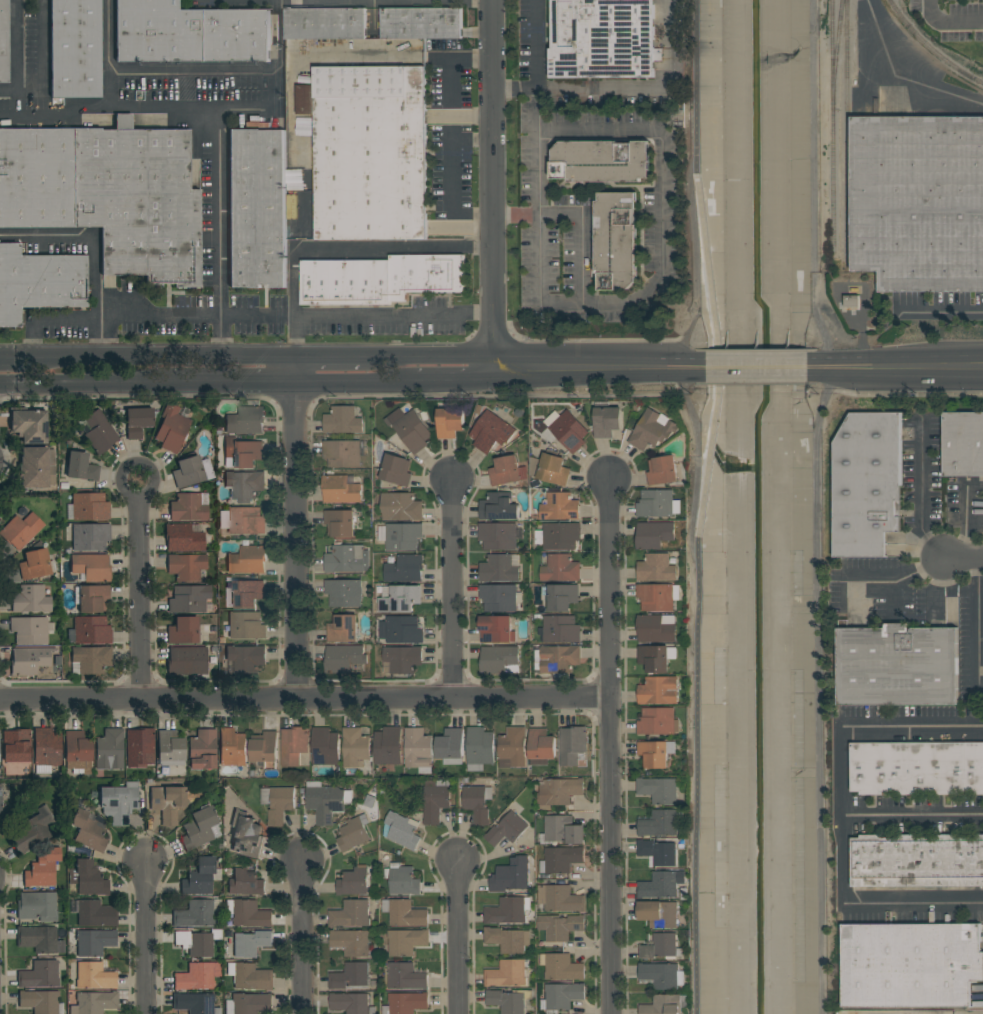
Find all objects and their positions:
road: (947, 18)
building: (325, 22)
building: (422, 22)
building: (189, 33)
building: (603, 38)
building: (4, 42)
railway: (932, 47)
building: (76, 48)
railway: (836, 52)
road: (16, 53)
road: (321, 54)
road: (461, 56)
road: (42, 57)
road: (157, 72)
road: (927, 85)
road: (643, 86)
road: (515, 88)
road: (146, 106)
road: (53, 115)
railway: (831, 124)
railway: (845, 132)
road: (219, 149)
building: (369, 151)
building: (601, 161)
road: (453, 175)
road: (493, 182)
building: (109, 194)
building: (918, 201)
road: (659, 207)
building: (257, 208)
road: (700, 208)
road: (538, 237)
building: (616, 240)
road: (685, 243)
road: (362, 248)
road: (96, 251)
building: (379, 278)
building: (39, 282)
building: (852, 300)
road: (939, 308)
road: (50, 316)
road: (296, 318)
road: (294, 336)
road: (147, 354)
road: (335, 355)
road: (435, 355)
road: (584, 364)
road: (688, 364)
road: (756, 364)
road: (897, 364)
road: (448, 378)
road: (348, 380)
road: (85, 381)
road: (232, 381)
building: (478, 408)
building: (246, 420)
building: (343, 420)
building: (606, 420)
building: (140, 421)
building: (450, 422)
building: (29, 425)
building: (172, 429)
building: (410, 429)
building: (651, 430)
building: (100, 431)
building: (569, 431)
building: (491, 432)
building: (396, 440)
building: (963, 444)
building: (243, 452)
building: (342, 453)
road: (694, 465)
building: (79, 467)
building: (550, 468)
building: (35, 469)
building: (395, 470)
building: (507, 470)
building: (662, 470)
building: (192, 471)
building: (867, 483)
building: (245, 484)
building: (342, 488)
road: (920, 492)
building: (655, 503)
building: (559, 505)
building: (401, 506)
building: (499, 506)
building: (90, 507)
building: (188, 508)
building: (243, 520)
building: (340, 522)
road: (295, 528)
building: (21, 530)
building: (520, 533)
building: (654, 534)
building: (558, 535)
building: (403, 536)
building: (498, 536)
building: (88, 537)
building: (184, 538)
building: (347, 558)
road: (964, 559)
building: (248, 560)
building: (36, 563)
building: (91, 567)
building: (186, 567)
building: (559, 567)
building: (405, 568)
building: (499, 568)
building: (656, 568)
road: (895, 580)
road: (452, 590)
building: (344, 592)
road: (140, 593)
building: (247, 593)
building: (561, 596)
building: (656, 596)
building: (499, 597)
building: (93, 598)
building: (399, 598)
building: (190, 599)
building: (31, 600)
road: (977, 615)
building: (246, 624)
building: (343, 628)
building: (496, 628)
building: (655, 628)
building: (401, 629)
building: (561, 629)
building: (30, 630)
building: (92, 630)
building: (183, 631)
building: (246, 658)
building: (345, 658)
building: (498, 658)
building: (654, 658)
building: (92, 659)
building: (559, 659)
building: (30, 660)
building: (401, 660)
building: (187, 661)
building: (897, 665)
building: (658, 690)
road: (304, 701)
road: (698, 714)
building: (659, 721)
building: (294, 744)
building: (16, 745)
building: (388, 745)
building: (572, 745)
building: (326, 746)
building: (355, 746)
building: (451, 746)
building: (541, 746)
road: (610, 746)
building: (140, 747)
building: (232, 747)
building: (513, 747)
building: (265, 748)
building: (418, 748)
building: (479, 748)
building: (46, 749)
building: (110, 749)
building: (169, 749)
building: (203, 749)
building: (77, 750)
building: (656, 752)
building: (917, 767)
building: (659, 789)
building: (559, 790)
building: (436, 799)
building: (328, 801)
building: (0, 802)
building: (119, 802)
building: (278, 802)
building: (477, 802)
building: (167, 803)
road: (912, 813)
road: (843, 814)
building: (659, 823)
building: (201, 828)
building: (33, 829)
building: (401, 829)
building: (507, 829)
building: (561, 830)
building: (353, 831)
building: (88, 832)
building: (246, 834)
building: (658, 852)
building: (561, 859)
building: (917, 860)
building: (43, 869)
building: (200, 877)
building: (88, 879)
building: (402, 879)
building: (512, 879)
building: (356, 880)
building: (246, 882)
building: (662, 884)
building: (560, 898)
building: (38, 906)
building: (508, 910)
building: (404, 912)
building: (248, 913)
building: (351, 913)
building: (659, 913)
building: (96, 914)
building: (195, 914)
building: (560, 926)
road: (303, 936)
road: (147, 937)
road: (457, 937)
building: (40, 939)
building: (507, 939)
building: (351, 941)
building: (406, 941)
building: (94, 942)
building: (198, 942)
building: (249, 942)
building: (662, 946)
building: (910, 964)
building: (562, 966)
building: (507, 973)
building: (662, 974)
building: (39, 975)
building: (94, 975)
building: (197, 976)
building: (251, 976)
building: (352, 976)
building: (406, 976)
building: (561, 996)
building: (509, 1000)
building: (40, 1001)
building: (94, 1003)
building: (195, 1003)
building: (248, 1003)
building: (351, 1003)
building: (405, 1003)
building: (665, 1004)

